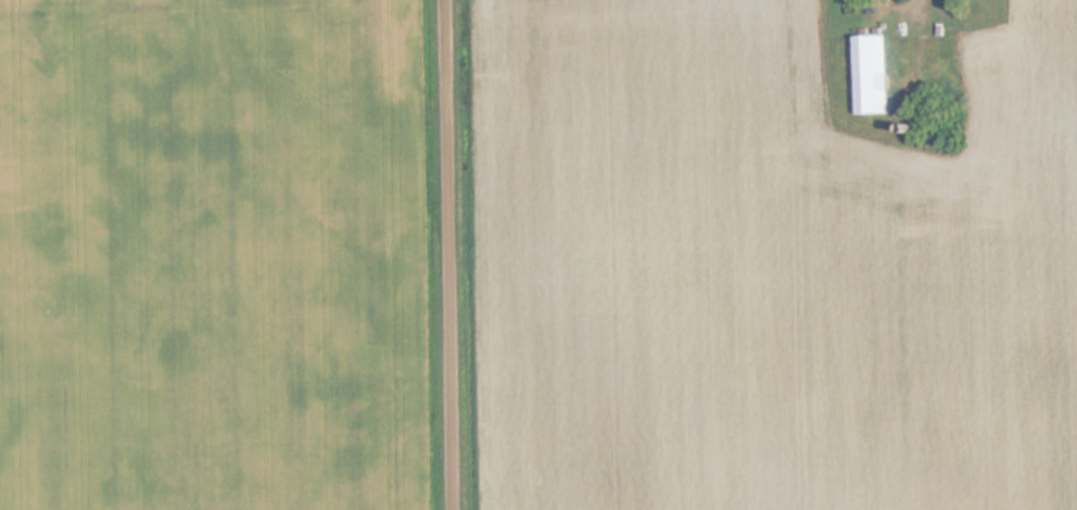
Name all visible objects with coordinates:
building: (869, 75)
road: (453, 255)

